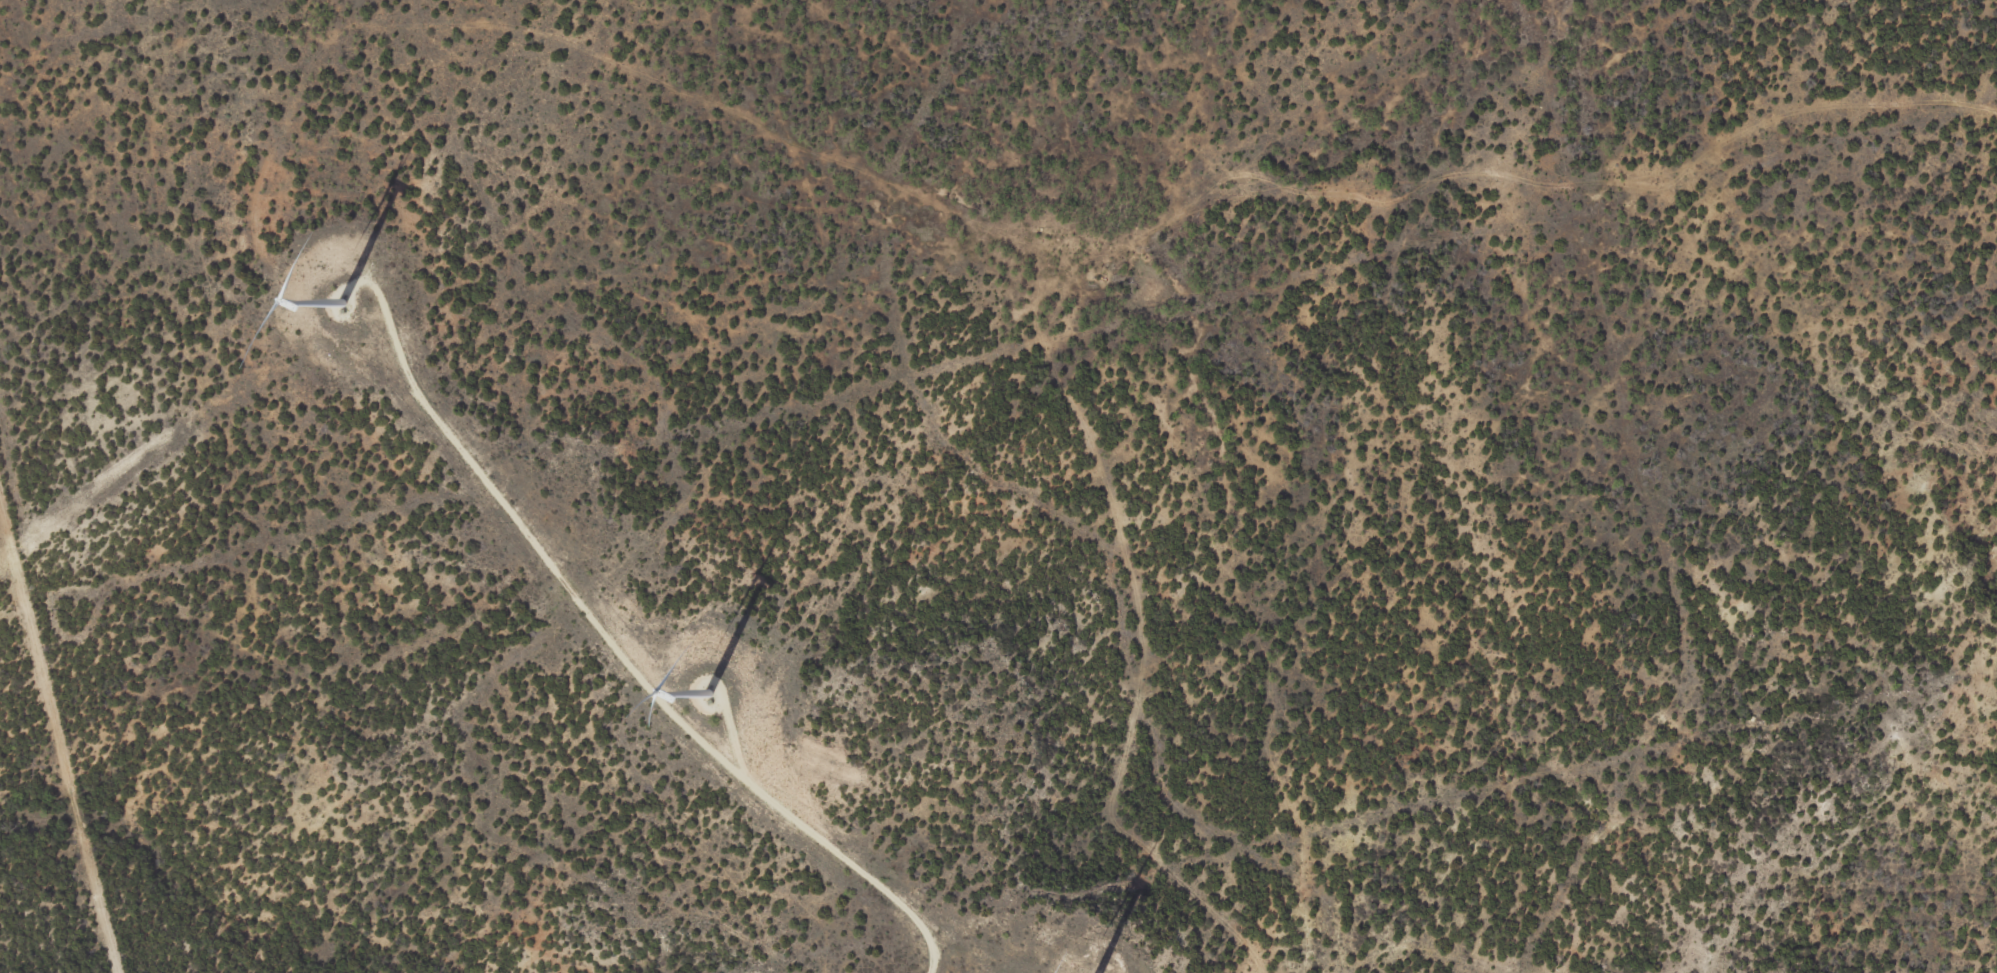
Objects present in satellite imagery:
wind turbine: (340, 304)
wind turbine: (702, 695)

